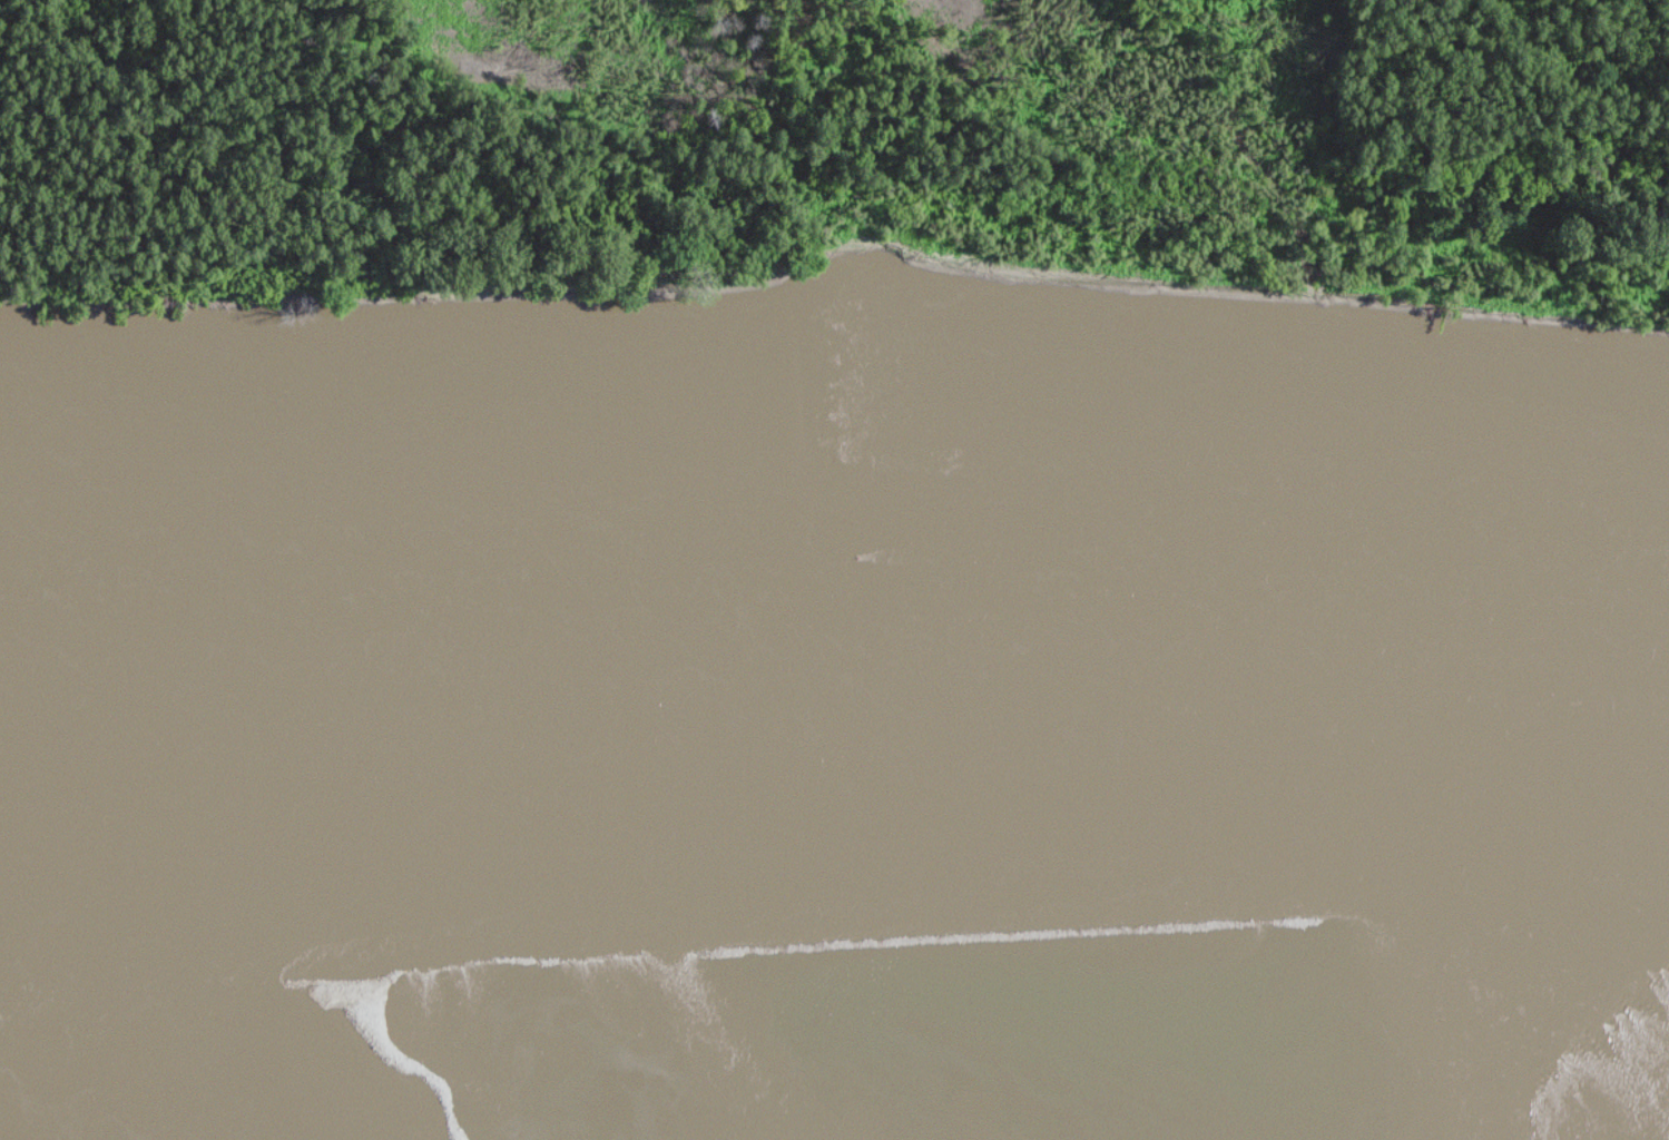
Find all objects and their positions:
river: (841, 646)

